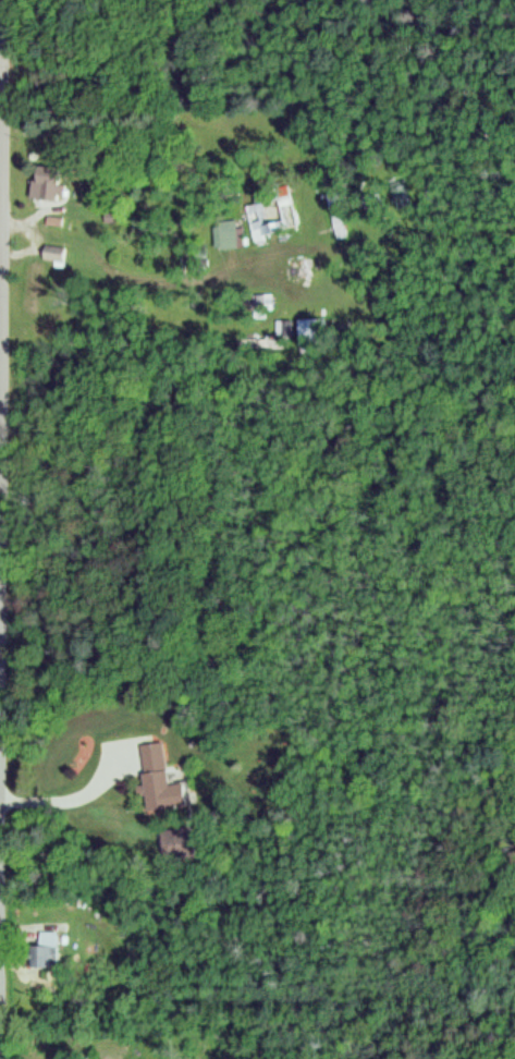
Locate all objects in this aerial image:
building: (47, 182)
building: (273, 212)
building: (226, 233)
building: (50, 252)
road: (2, 269)
building: (319, 328)
building: (152, 776)
building: (42, 951)
road: (2, 990)

